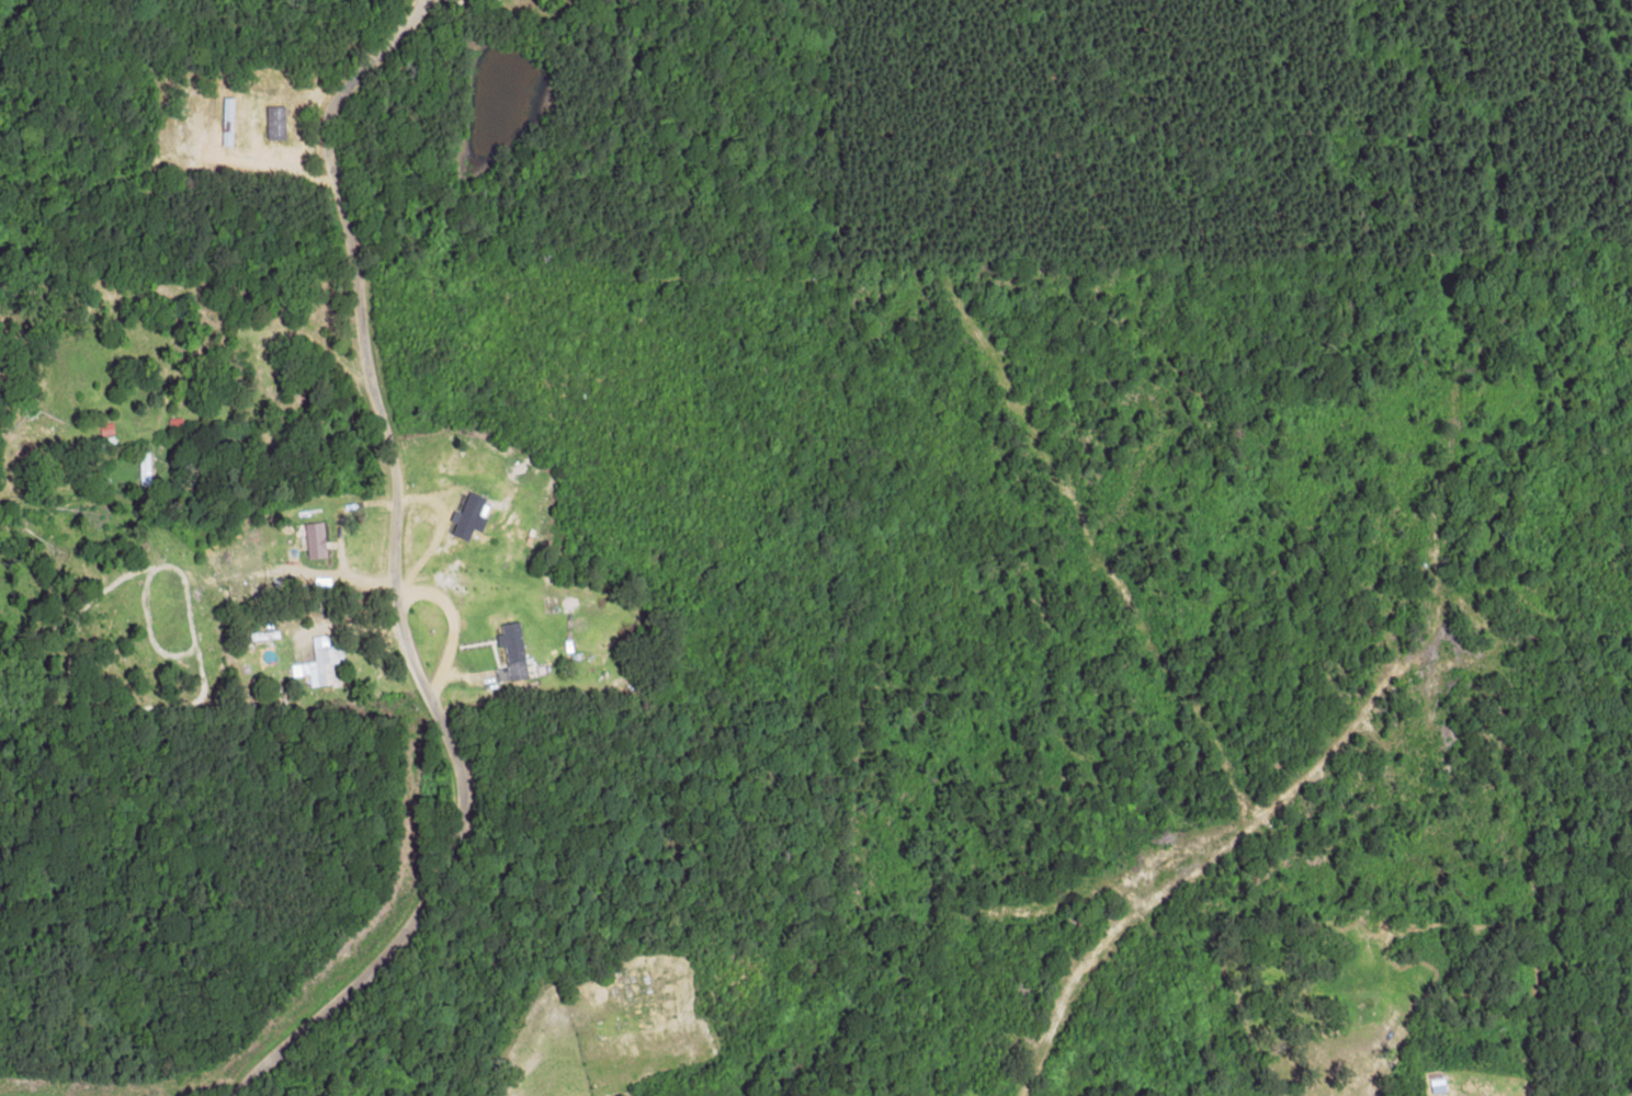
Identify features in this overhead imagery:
building: (274, 122)
building: (467, 514)
building: (313, 539)
road: (360, 564)
building: (512, 654)
building: (321, 662)

